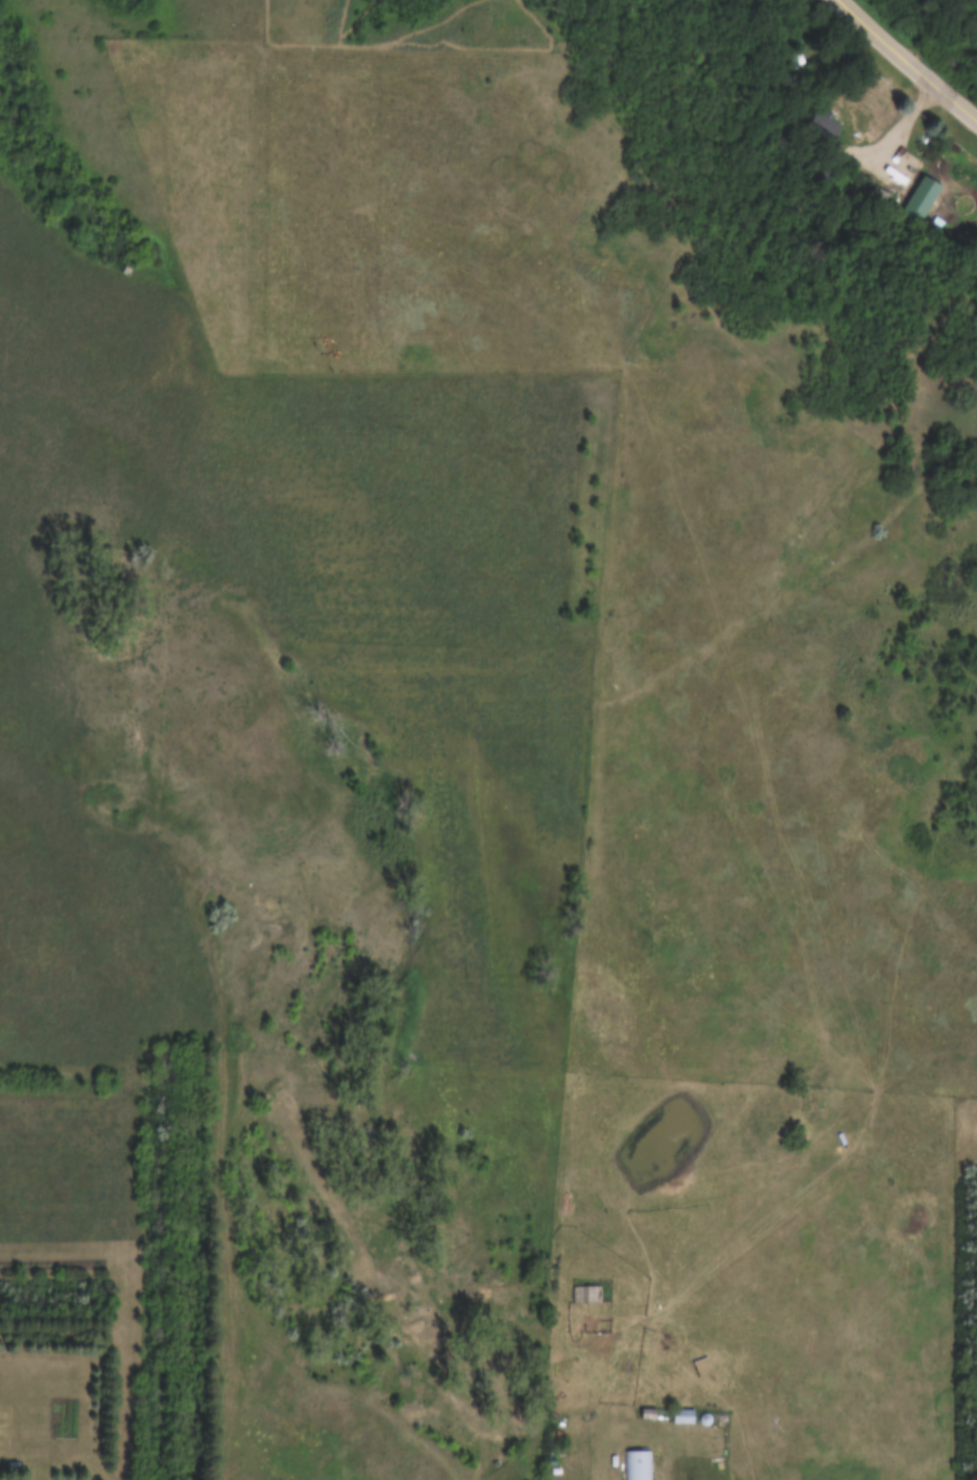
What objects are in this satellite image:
road: (908, 59)
road: (893, 132)
building: (918, 197)
building: (585, 1294)
building: (681, 1417)
building: (634, 1465)

